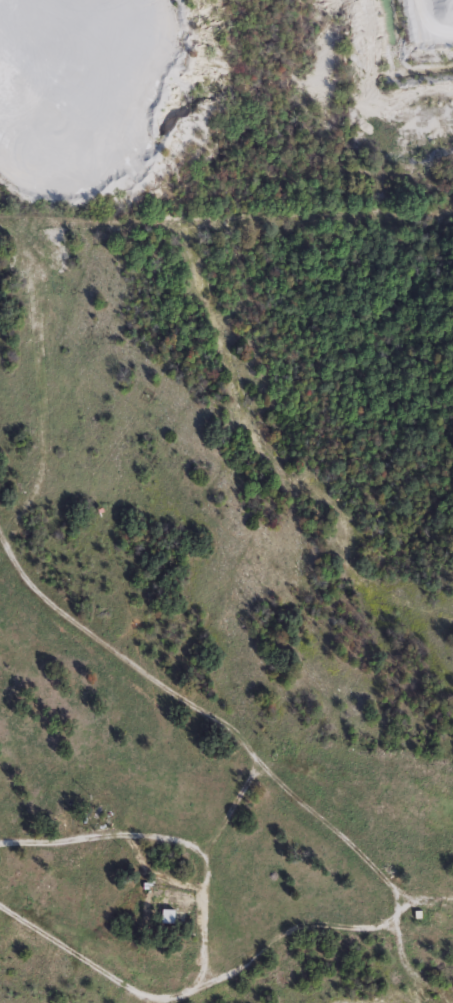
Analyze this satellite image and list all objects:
quarry: (385, 73)
quarry: (103, 95)
road: (201, 928)

